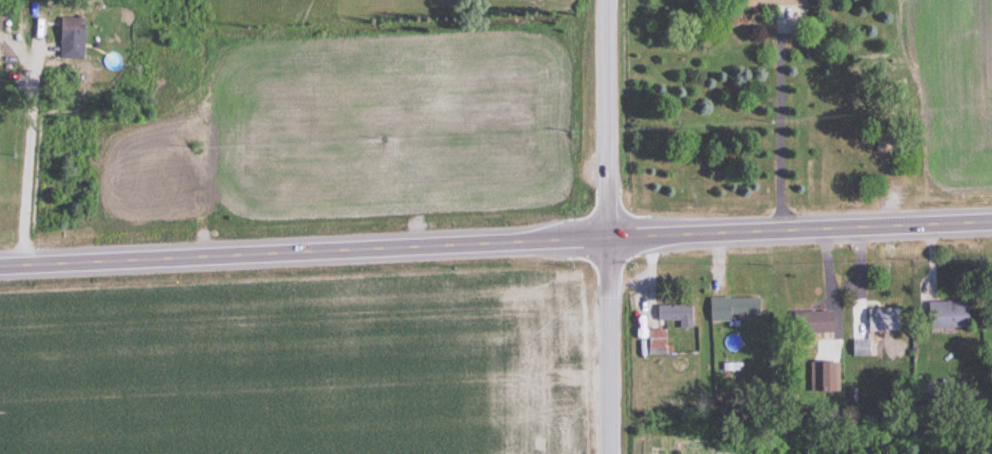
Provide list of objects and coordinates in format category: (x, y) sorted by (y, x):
building: (772, 2)
building: (71, 38)
road: (608, 118)
building: (848, 143)
road: (29, 157)
road: (495, 242)
road: (830, 287)
building: (735, 309)
building: (675, 314)
building: (947, 314)
building: (883, 320)
building: (812, 322)
building: (657, 342)
road: (609, 345)
building: (860, 348)

